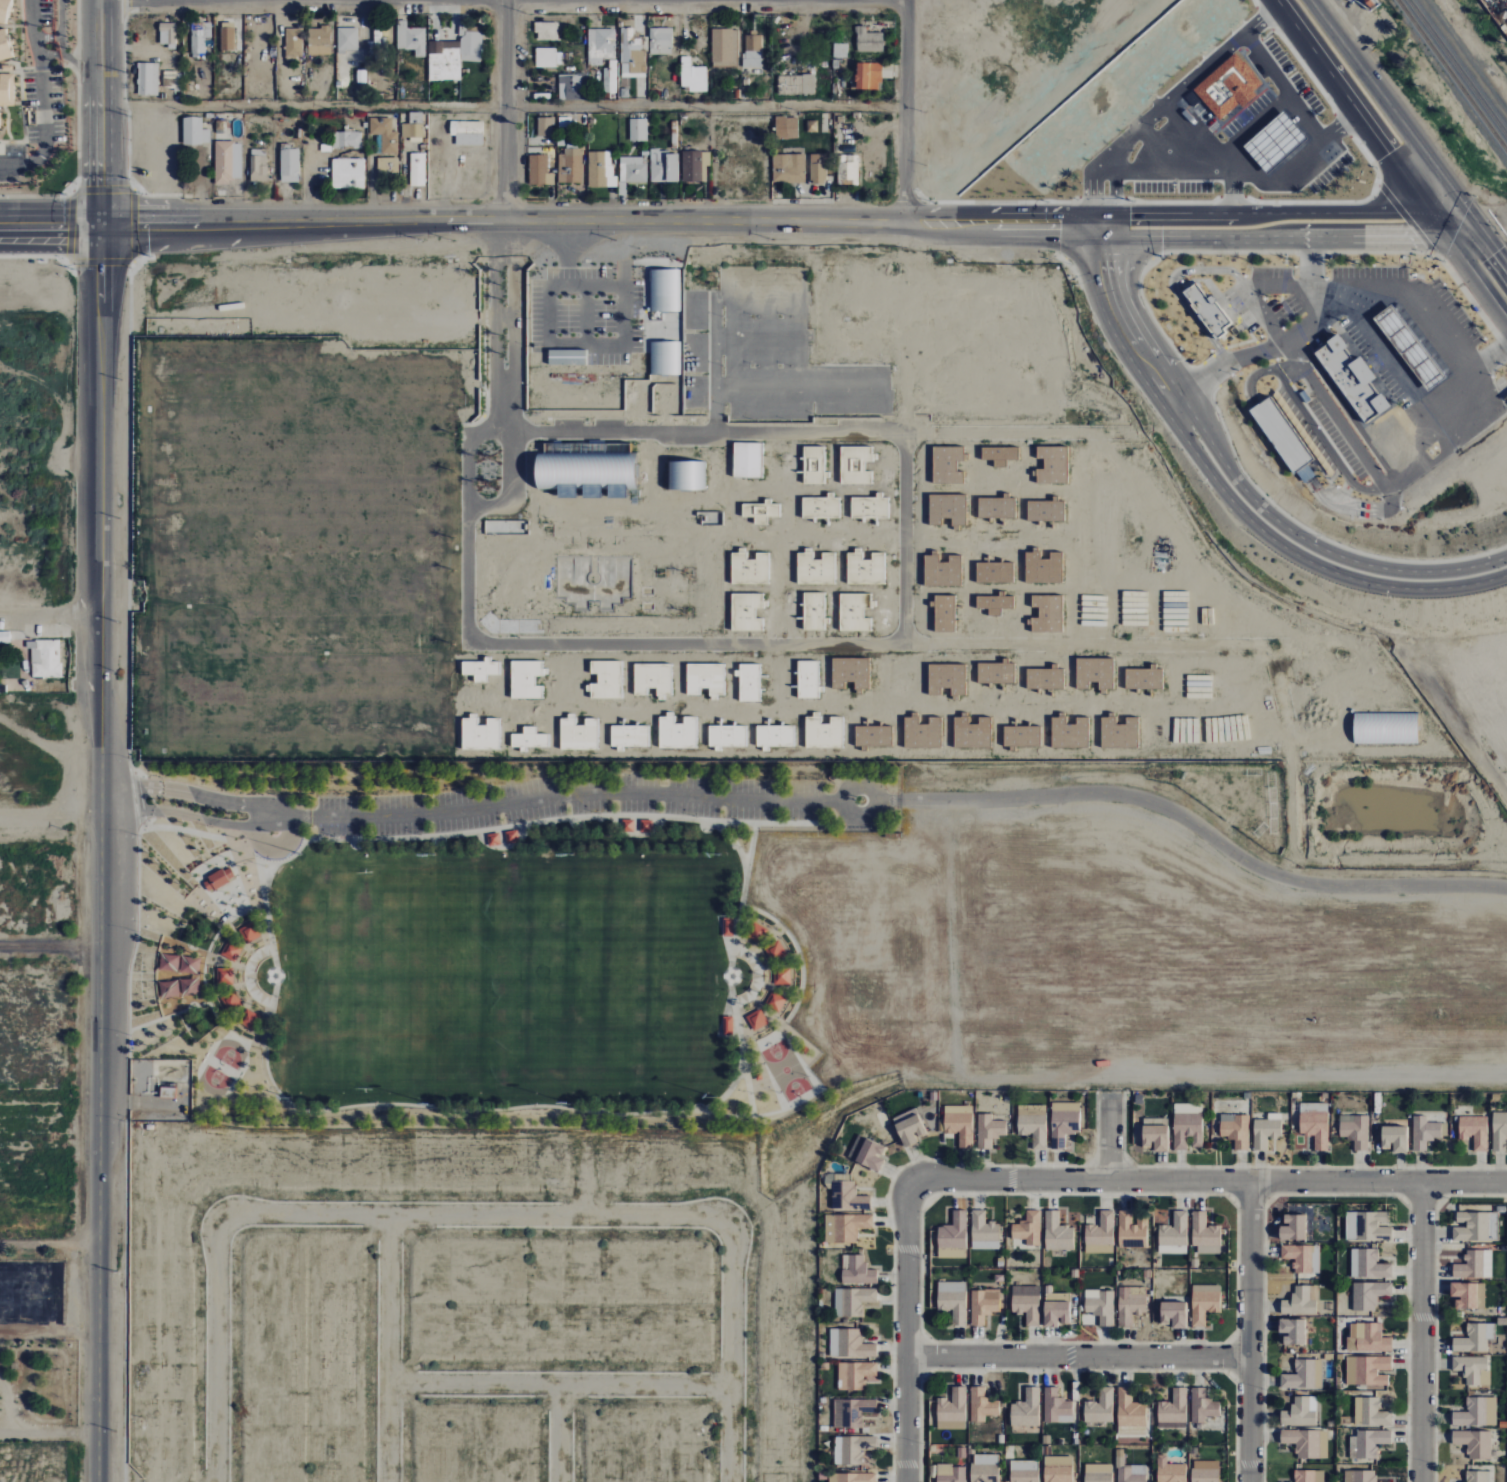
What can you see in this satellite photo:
road: (594, 7)
building: (3, 10)
road: (187, 11)
road: (862, 12)
road: (282, 13)
road: (309, 13)
road: (675, 14)
road: (735, 14)
road: (362, 16)
road: (644, 17)
road: (765, 17)
road: (534, 19)
road: (370, 20)
road: (401, 21)
road: (435, 24)
road: (888, 25)
building: (198, 26)
road: (683, 27)
building: (546, 32)
building: (169, 35)
road: (780, 35)
road: (46, 36)
building: (321, 37)
building: (228, 39)
building: (348, 39)
building: (867, 40)
building: (415, 41)
building: (606, 41)
building: (632, 41)
building: (198, 42)
building: (662, 42)
building: (295, 43)
building: (473, 43)
building: (377, 45)
road: (60, 46)
building: (723, 46)
building: (4, 47)
road: (131, 48)
building: (840, 50)
building: (753, 51)
road: (53, 55)
building: (548, 58)
building: (445, 64)
railway: (1457, 67)
road: (533, 70)
road: (895, 72)
building: (694, 74)
railway: (1452, 75)
building: (870, 76)
building: (146, 79)
building: (172, 79)
road: (531, 80)
road: (1335, 81)
building: (797, 85)
building: (571, 87)
building: (6, 90)
building: (189, 90)
road: (531, 95)
road: (1383, 98)
road: (42, 99)
road: (500, 107)
road: (97, 109)
road: (506, 109)
road: (904, 111)
building: (565, 122)
road: (880, 125)
building: (0, 127)
building: (415, 127)
building: (546, 127)
building: (782, 127)
building: (467, 130)
building: (639, 130)
building: (194, 132)
building: (386, 134)
building: (348, 141)
road: (475, 153)
traffic signals: (1395, 163)
building: (228, 164)
building: (258, 164)
building: (291, 166)
building: (695, 166)
building: (389, 167)
building: (571, 167)
building: (663, 167)
building: (789, 168)
building: (818, 168)
building: (419, 170)
building: (599, 170)
building: (633, 170)
building: (847, 170)
building: (540, 171)
building: (349, 174)
road: (372, 178)
road: (406, 179)
road: (309, 180)
road: (444, 185)
road: (1412, 188)
road: (204, 201)
road: (253, 201)
road: (237, 202)
road: (287, 202)
road: (623, 203)
road: (656, 203)
road: (675, 203)
road: (706, 203)
road: (804, 203)
road: (825, 203)
road: (551, 204)
road: (562, 204)
road: (583, 204)
road: (612, 205)
road: (1443, 205)
road: (848, 206)
road: (50, 218)
road: (502, 219)
road: (1421, 221)
road: (975, 223)
road: (1477, 224)
traffic signals: (1047, 225)
road: (1069, 226)
road: (1110, 227)
traffic signals: (1128, 228)
road: (1155, 228)
road: (1297, 228)
traffic signals: (1413, 228)
road: (1150, 241)
road: (1101, 242)
road: (1451, 242)
road: (1091, 244)
traffic signals: (1498, 251)
road: (1502, 257)
traffic signals: (1105, 262)
traffic signals: (1126, 262)
building: (177, 269)
road: (1309, 272)
road: (1418, 287)
building: (665, 289)
building: (162, 293)
building: (195, 293)
road: (1489, 294)
road: (1348, 298)
building: (1207, 310)
building: (1425, 324)
gas station: (1425, 324)
road: (1146, 331)
road: (1131, 336)
building: (1409, 347)
road: (1384, 350)
building: (567, 357)
building: (665, 357)
road: (1250, 357)
building: (1366, 365)
gas station: (1366, 365)
parking lot: (1392, 371)
building: (1353, 379)
road: (1481, 392)
gas station: (1460, 397)
road: (1174, 403)
road: (1426, 409)
building: (1281, 433)
building: (747, 460)
building: (945, 462)
building: (813, 464)
building: (855, 464)
building: (585, 473)
building: (686, 474)
building: (820, 507)
building: (869, 507)
building: (996, 507)
road: (1239, 508)
building: (947, 509)
building: (1045, 510)
building: (760, 511)
road: (101, 514)
road: (1198, 541)
road: (1315, 542)
building: (749, 568)
building: (815, 568)
building: (865, 568)
building: (813, 610)
building: (745, 611)
building: (854, 611)
road: (63, 632)
building: (46, 658)
building: (480, 669)
building: (705, 678)
building: (525, 679)
building: (606, 679)
building: (652, 679)
building: (807, 679)
building: (749, 682)
building: (1386, 728)
building: (823, 732)
building: (479, 733)
building: (677, 733)
building: (578, 734)
building: (629, 736)
building: (727, 736)
building: (774, 736)
building: (529, 738)
crop: (41, 765)
road: (135, 771)
road: (134, 772)
road: (119, 786)
road: (569, 794)
road: (136, 797)
road: (215, 799)
road: (877, 799)
road: (888, 800)
road: (835, 801)
parking lot: (568, 803)
road: (121, 810)
road: (302, 818)
road: (538, 821)
road: (217, 822)
road: (767, 823)
building: (626, 825)
building: (645, 825)
road: (860, 825)
road: (181, 829)
road: (1205, 831)
building: (511, 837)
building: (493, 839)
road: (240, 847)
road: (749, 847)
road: (273, 848)
road: (268, 862)
road: (278, 863)
building: (228, 873)
building: (215, 875)
road: (259, 877)
road: (100, 879)
building: (219, 882)
building: (207, 884)
building: (727, 927)
building: (249, 932)
park: (479, 938)
road: (50, 948)
building: (231, 951)
building: (775, 951)
road: (130, 965)
road: (275, 972)
park: (641, 975)
building: (180, 976)
building: (224, 976)
park: (366, 976)
park: (503, 976)
building: (781, 976)
building: (748, 997)
road: (732, 1000)
building: (231, 1002)
building: (775, 1002)
building: (249, 1020)
building: (756, 1020)
building: (727, 1025)
building: (804, 1050)
park: (229, 1052)
park: (784, 1070)
building: (757, 1076)
park: (212, 1081)
road: (746, 1084)
building: (168, 1092)
road: (113, 1102)
road: (152, 1104)
road: (461, 1111)
road: (740, 1116)
building: (908, 1126)
building: (1062, 1126)
building: (959, 1127)
building: (1032, 1128)
building: (1314, 1128)
building: (988, 1130)
building: (1186, 1130)
building: (1473, 1130)
building: (1499, 1130)
building: (1235, 1131)
building: (1264, 1132)
building: (1355, 1132)
building: (1423, 1132)
road: (1110, 1134)
building: (1155, 1137)
building: (1394, 1138)
building: (870, 1155)
road: (1127, 1162)
road: (1090, 1163)
road: (1108, 1164)
road: (1281, 1166)
road: (1207, 1181)
road: (887, 1191)
road: (1335, 1194)
building: (847, 1196)
road: (1250, 1197)
road: (1231, 1198)
road: (1268, 1198)
road: (1421, 1198)
road: (1404, 1199)
road: (1440, 1199)
road: (921, 1209)
road: (99, 1215)
building: (1366, 1226)
building: (1475, 1226)
building: (844, 1227)
building: (982, 1228)
building: (1027, 1228)
building: (1293, 1228)
building: (1131, 1230)
building: (1203, 1230)
building: (952, 1231)
building: (1056, 1231)
building: (1100, 1231)
building: (1173, 1232)
road: (49, 1246)
building: (1301, 1257)
building: (1367, 1264)
building: (1469, 1265)
building: (856, 1270)
crop: (41, 1291)
building: (1368, 1294)
building: (1464, 1294)
building: (852, 1301)
building: (1298, 1302)
building: (952, 1304)
building: (1203, 1305)
building: (1128, 1306)
road: (1434, 1306)
building: (981, 1307)
building: (1100, 1307)
building: (1026, 1308)
building: (1055, 1313)
building: (1173, 1313)
building: (1292, 1330)
road: (1249, 1331)
road: (1420, 1331)
road: (907, 1332)
road: (924, 1337)
building: (1474, 1337)
road: (1231, 1339)
building: (1367, 1339)
building: (849, 1343)
road: (923, 1355)
road: (1078, 1356)
road: (1232, 1357)
building: (1469, 1368)
road: (1076, 1370)
building: (1366, 1370)
building: (854, 1374)
road: (924, 1374)
building: (1299, 1375)
road: (1231, 1376)
building: (981, 1405)
building: (1054, 1405)
building: (1201, 1406)
building: (951, 1407)
building: (1025, 1407)
building: (1099, 1407)
building: (1128, 1408)
building: (1172, 1408)
building: (850, 1411)
building: (1369, 1412)
building: (1476, 1412)
building: (1298, 1413)
road: (49, 1435)
building: (1306, 1442)
building: (1369, 1443)
building: (1473, 1443)
building: (851, 1449)
building: (983, 1474)
building: (1024, 1474)
building: (1057, 1474)
building: (1170, 1474)
building: (1204, 1475)
building: (952, 1476)
building: (1128, 1476)
building: (1304, 1476)
building: (1358, 1476)
building: (1475, 1476)
building: (851, 1477)
building: (1097, 1477)

